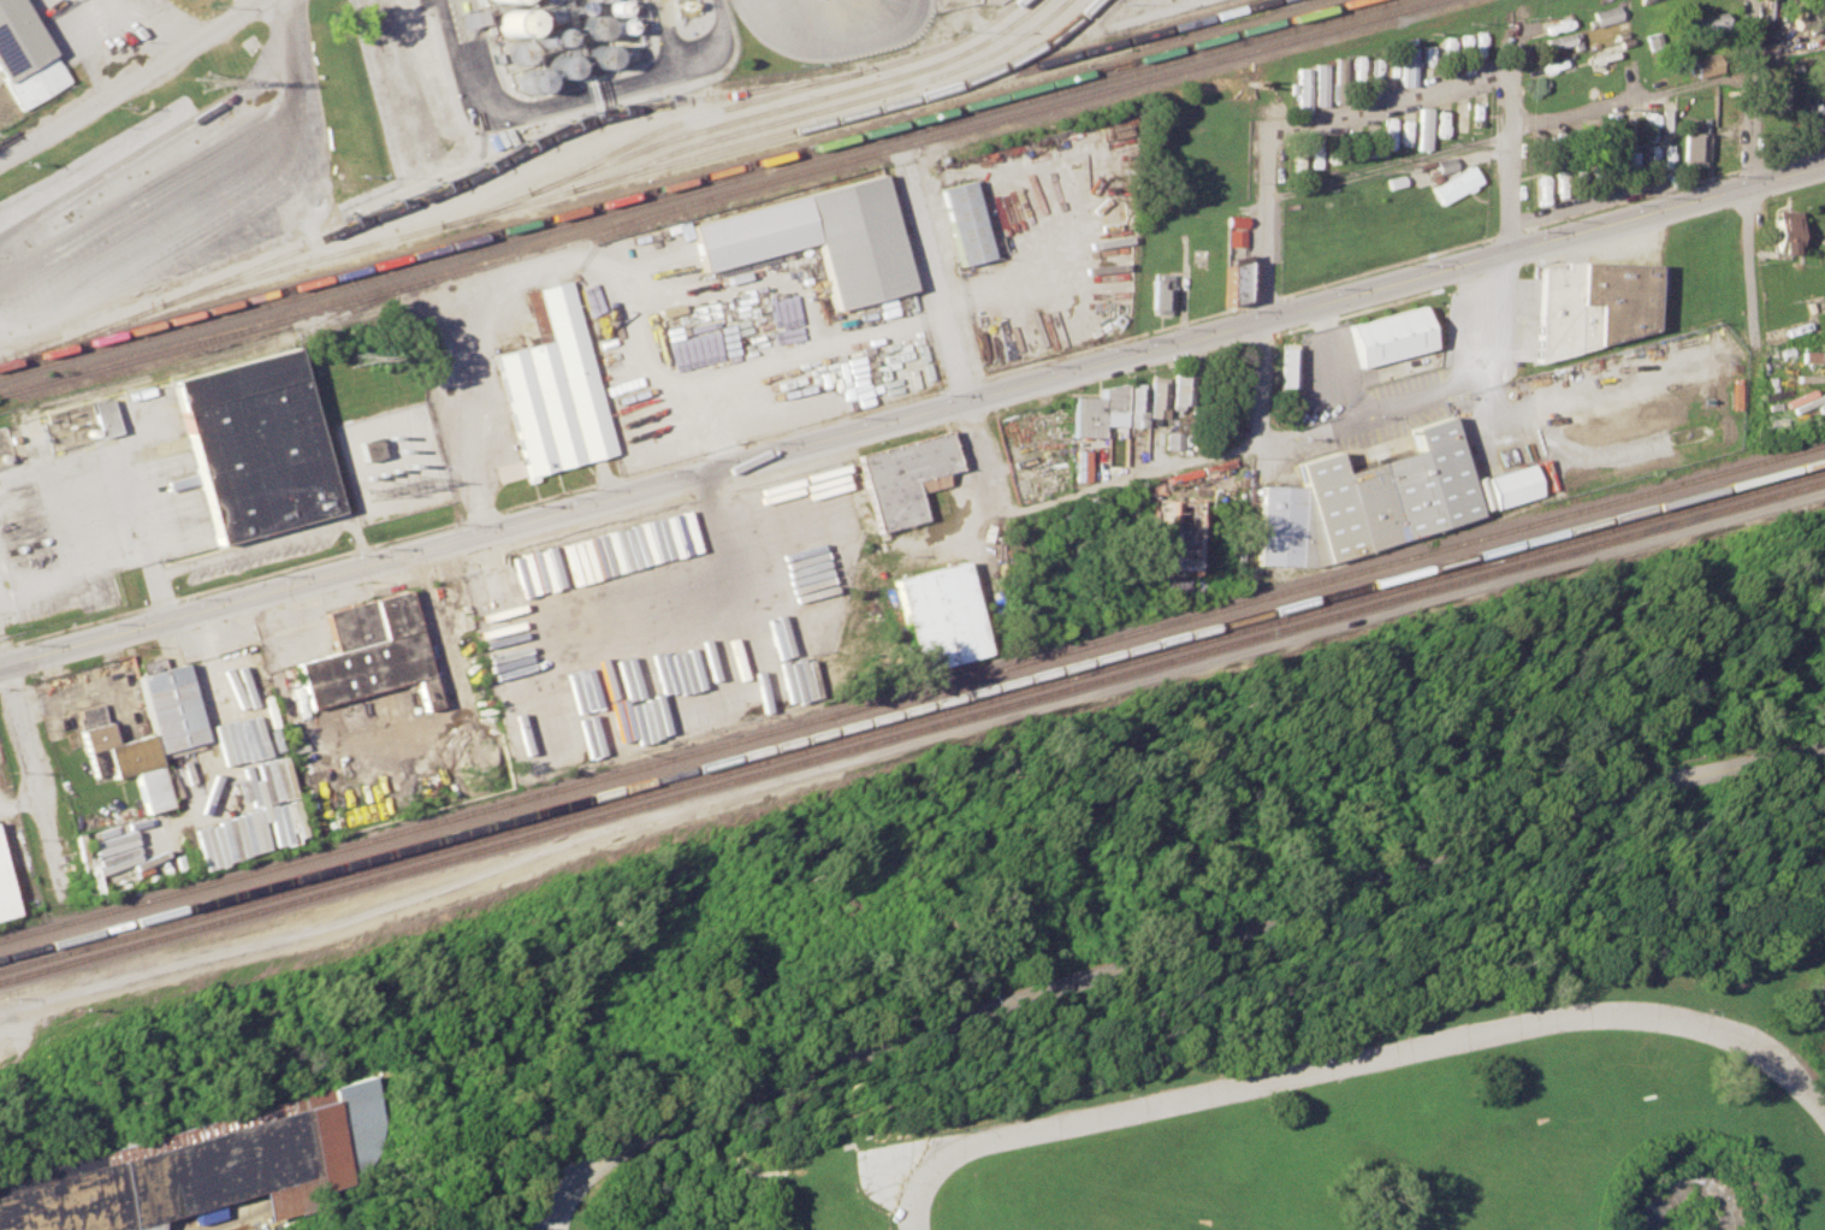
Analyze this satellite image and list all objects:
building: (497, 0)
building: (1605, 13)
building: (463, 17)
building: (509, 20)
building: (1711, 23)
road: (109, 24)
building: (587, 25)
road: (160, 26)
road: (828, 31)
building: (1558, 39)
building: (1653, 40)
railway: (1021, 53)
building: (25, 55)
building: (1703, 63)
road: (130, 81)
building: (1319, 83)
building: (1300, 89)
road: (577, 94)
railway: (774, 94)
road: (1392, 99)
railway: (822, 107)
railway: (747, 116)
building: (1814, 116)
building: (1665, 119)
building: (1647, 125)
building: (1422, 128)
building: (1628, 128)
road: (1511, 130)
building: (1610, 131)
railway: (550, 134)
building: (1693, 144)
building: (1649, 153)
road: (1, 154)
building: (1444, 162)
railway: (632, 172)
building: (1396, 179)
railway: (679, 183)
building: (1453, 183)
railway: (697, 188)
railway: (718, 193)
road: (1510, 201)
road: (1755, 213)
building: (1234, 220)
building: (962, 221)
building: (1784, 229)
building: (818, 237)
road: (1263, 276)
building: (1233, 278)
road: (935, 279)
building: (1159, 292)
building: (1590, 304)
road: (629, 312)
building: (1391, 335)
road: (811, 348)
railway: (227, 355)
building: (1812, 356)
building: (1285, 365)
road: (456, 378)
building: (550, 389)
building: (1179, 390)
building: (1156, 397)
building: (1136, 407)
building: (1095, 408)
building: (103, 416)
road: (912, 416)
road: (1292, 430)
building: (1173, 438)
building: (254, 444)
building: (367, 448)
power substation: (392, 463)
building: (905, 475)
building: (1512, 484)
road: (473, 487)
building: (1365, 498)
building: (1177, 533)
building: (938, 615)
building: (368, 651)
railway: (912, 691)
railway: (912, 709)
railway: (912, 720)
railway: (912, 731)
building: (167, 734)
road: (35, 774)
road: (19, 799)
building: (6, 889)
road: (1166, 945)
park: (1220, 952)
road: (1358, 1062)
building: (220, 1165)
road: (556, 1225)

